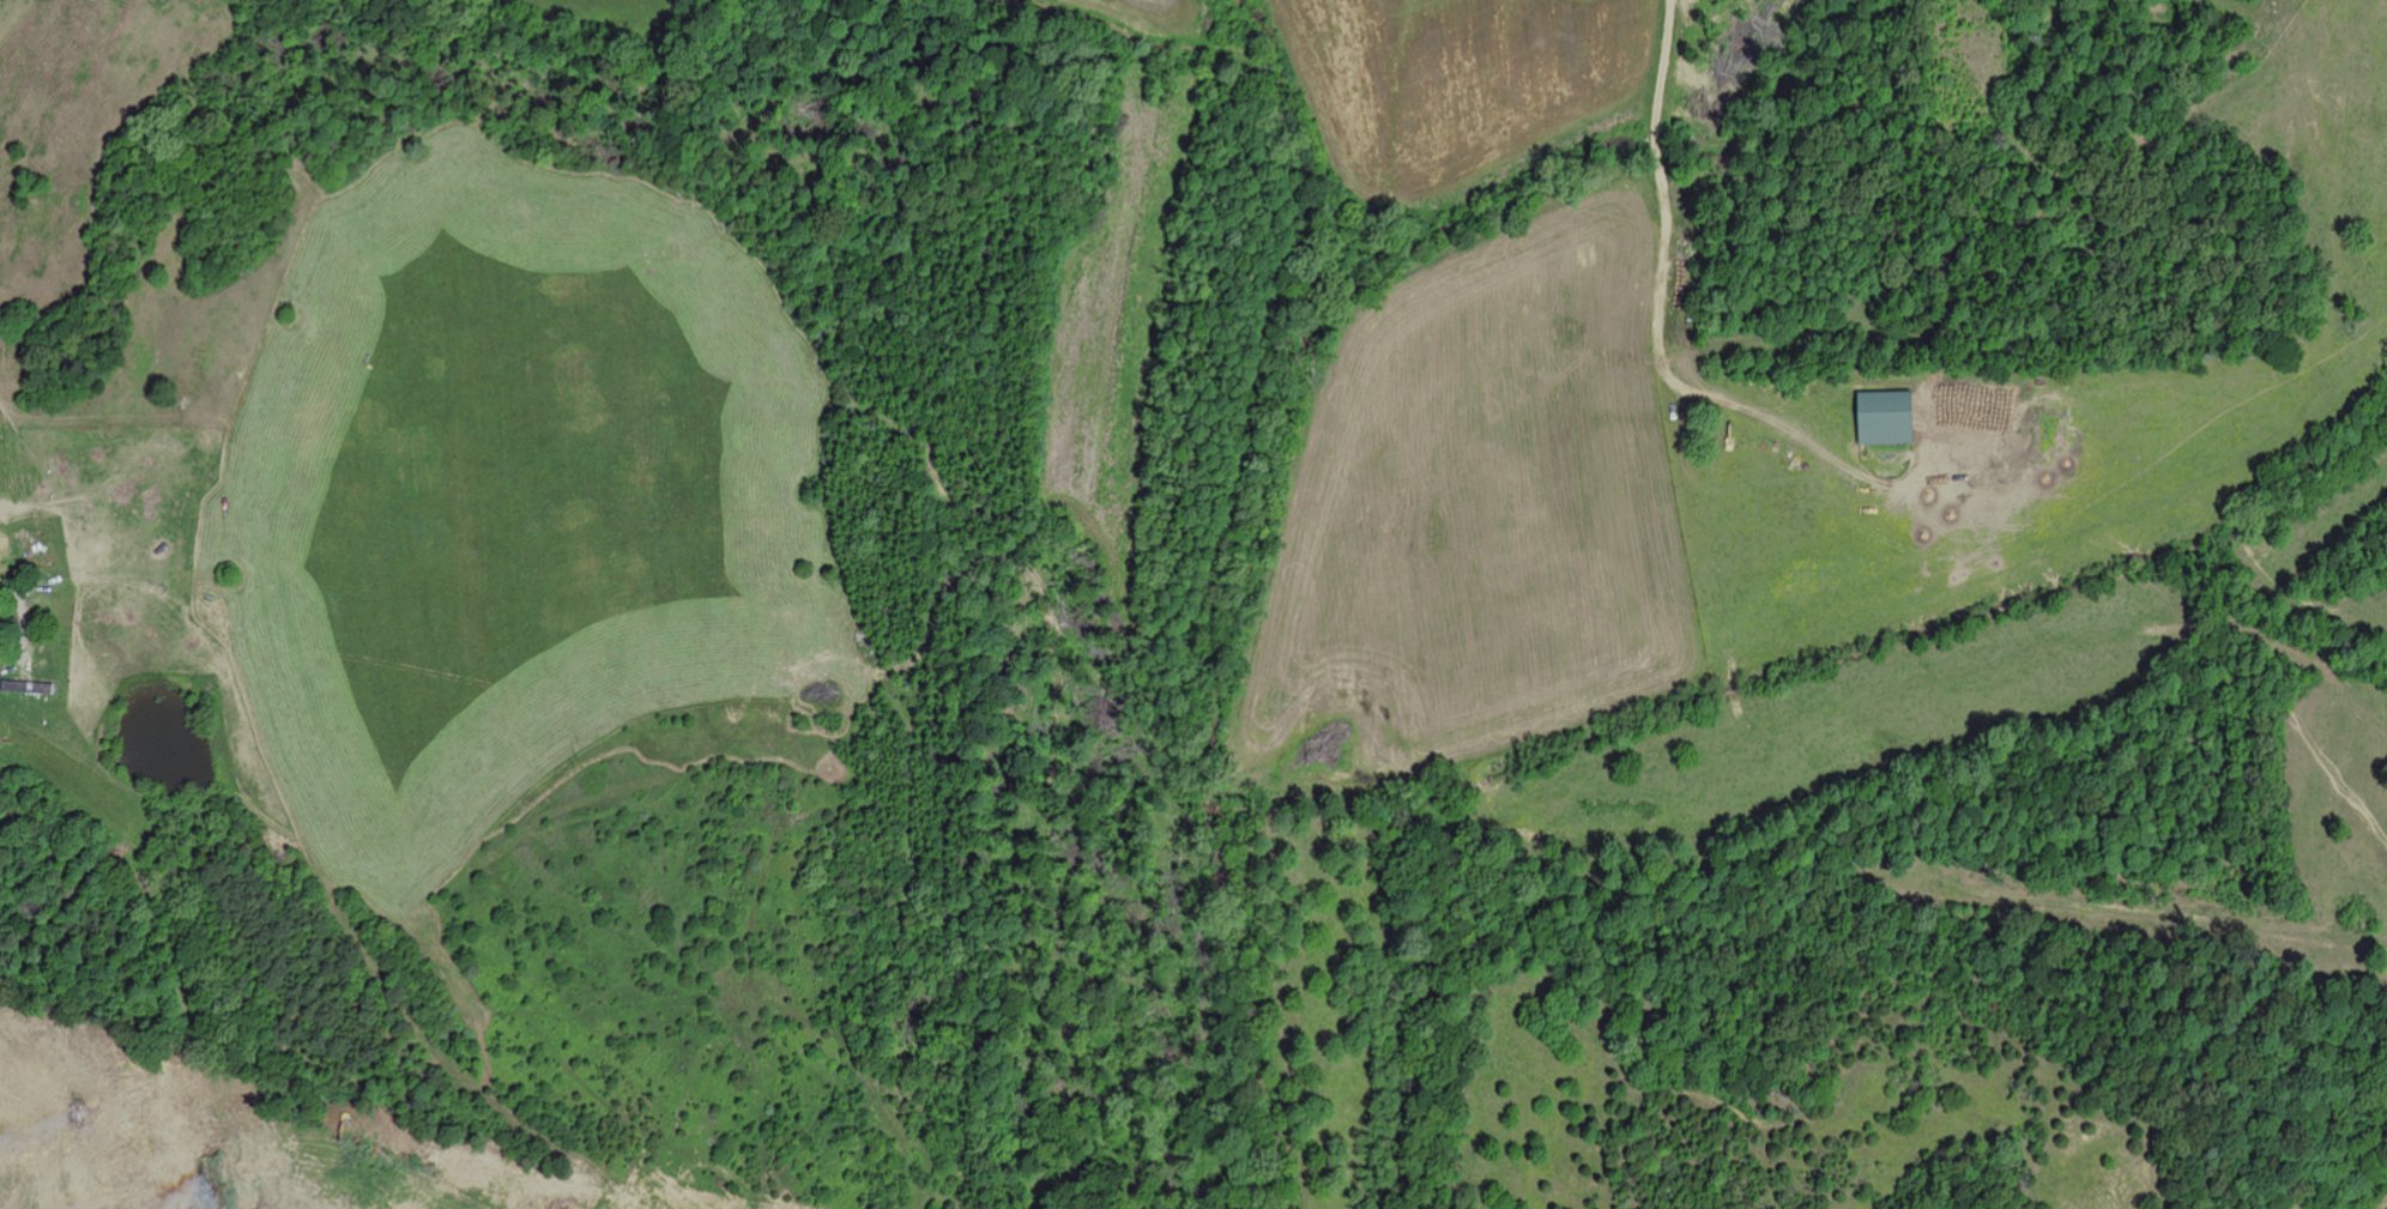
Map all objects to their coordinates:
building: (1884, 418)
building: (26, 687)

